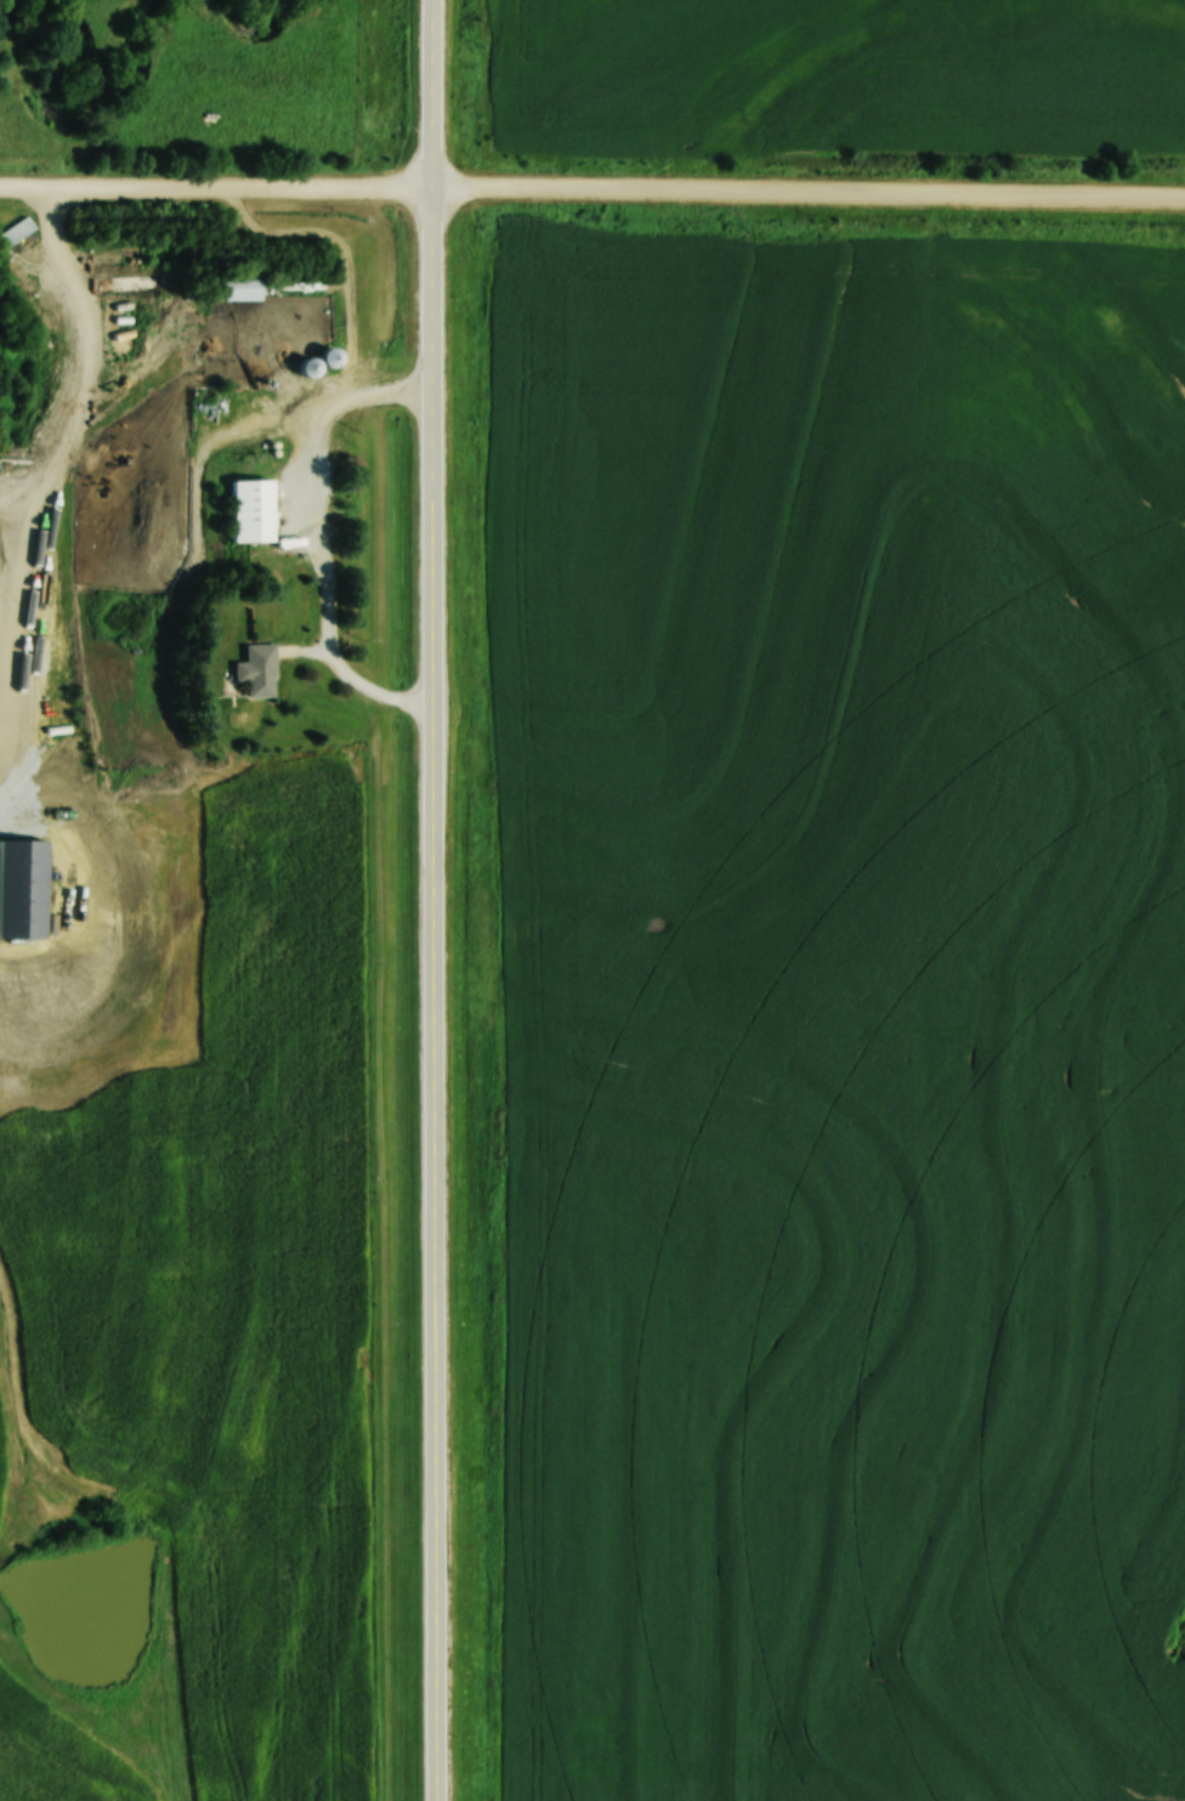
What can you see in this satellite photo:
road: (431, 94)
road: (215, 186)
road: (807, 194)
building: (16, 232)
building: (243, 284)
building: (254, 510)
road: (318, 545)
building: (260, 669)
road: (433, 995)

